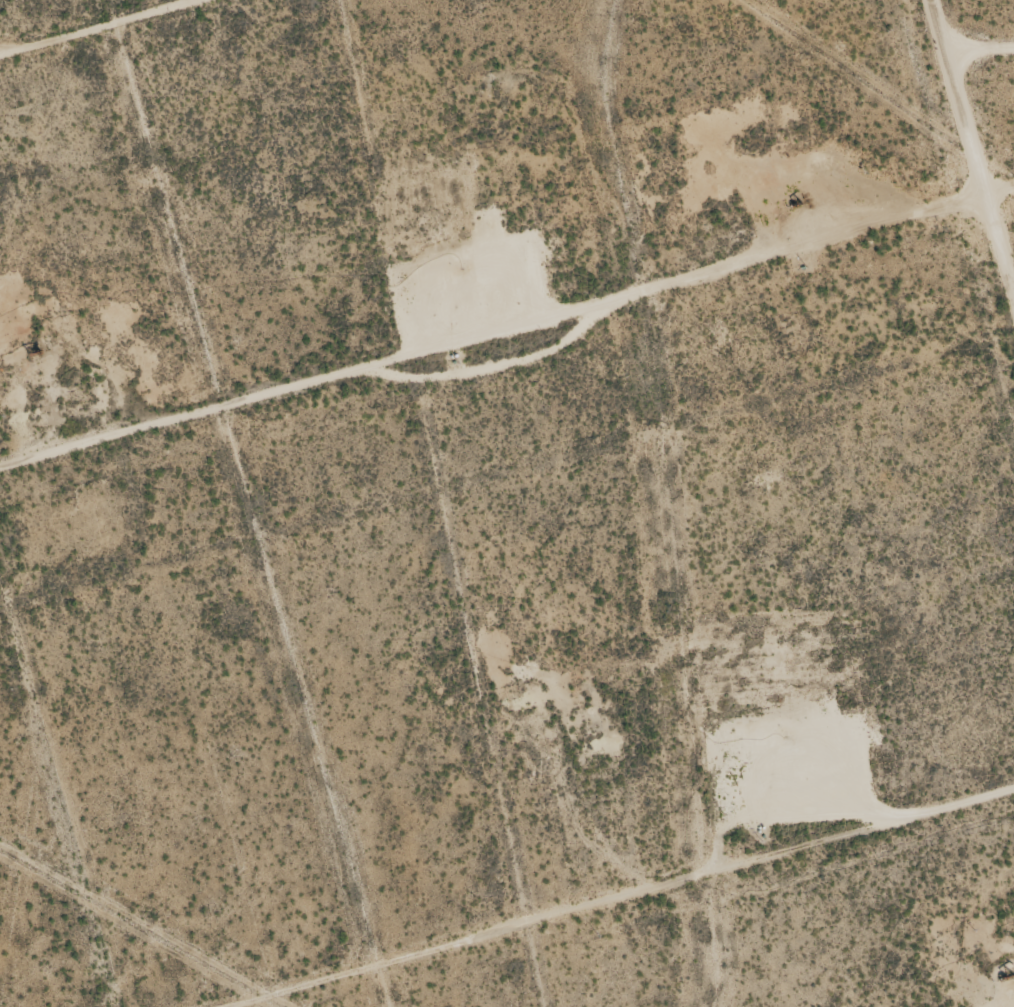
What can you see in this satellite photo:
road: (980, 123)
road: (506, 360)
road: (679, 912)

